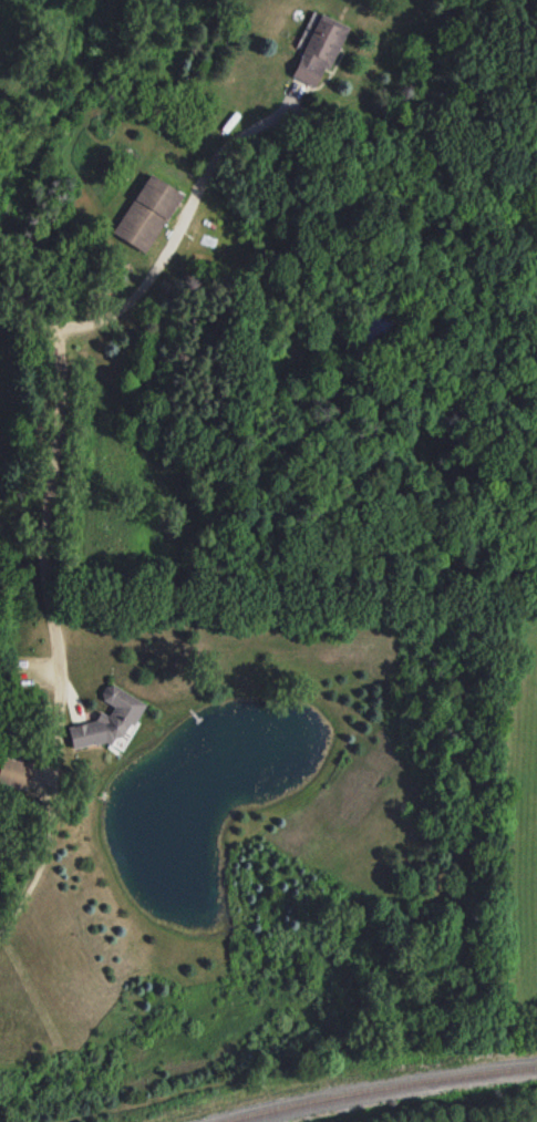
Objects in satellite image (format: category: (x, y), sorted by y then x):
building: (319, 49)
building: (147, 213)
road: (180, 230)
road: (32, 309)
road: (48, 506)
building: (107, 719)
building: (14, 772)
crop: (517, 866)
railway: (332, 1075)

